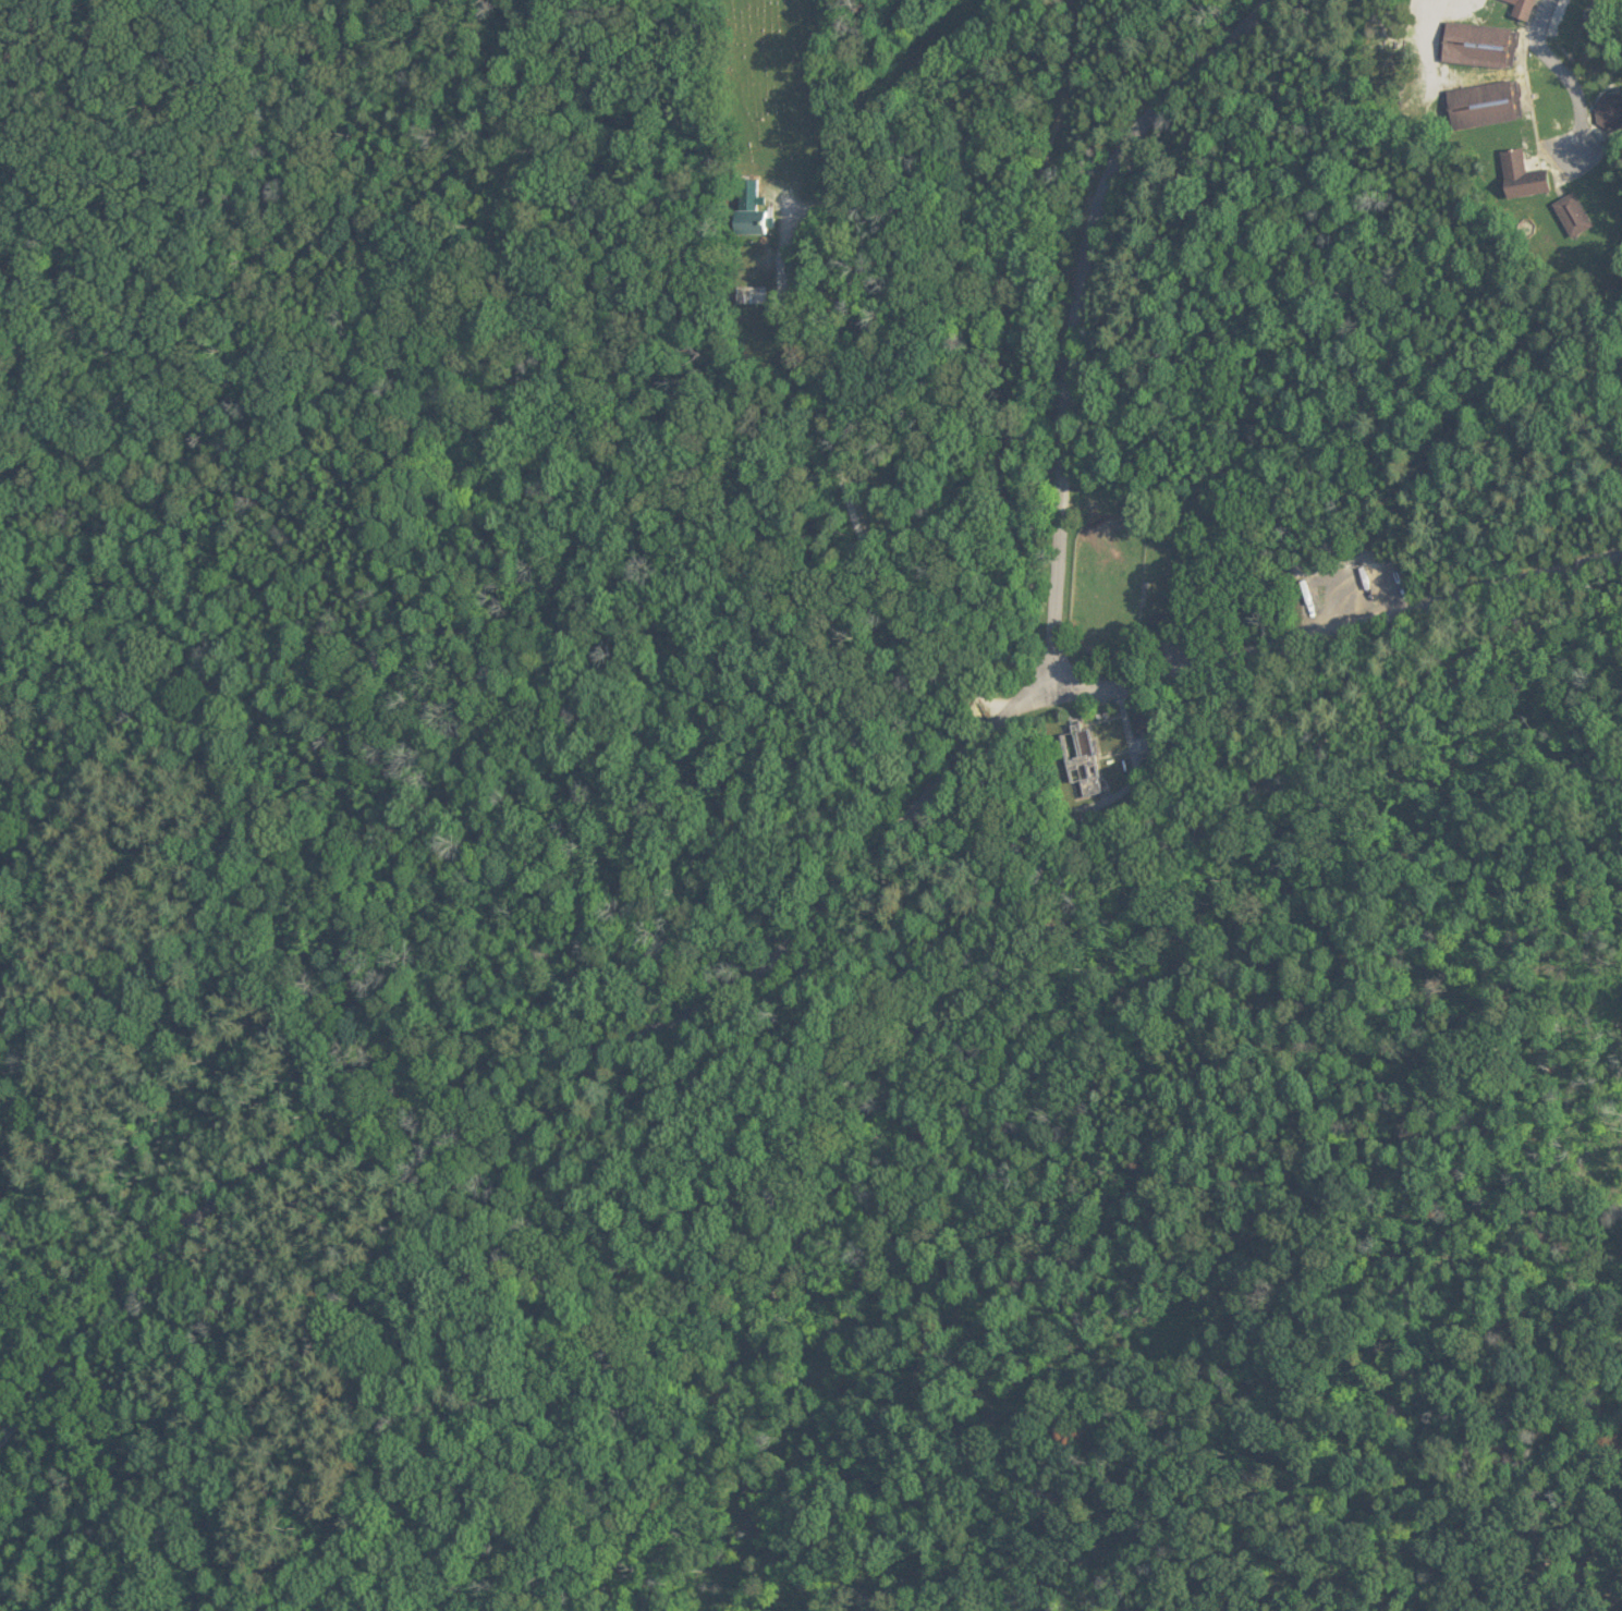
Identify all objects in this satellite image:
building: (1521, 10)
parking lot: (1535, 13)
road: (1178, 24)
road: (71, 34)
road: (28, 36)
building: (1473, 46)
road: (1564, 77)
building: (1478, 106)
building: (1608, 112)
building: (1519, 176)
road: (1414, 205)
building: (746, 210)
building: (1570, 215)
building: (747, 295)
road: (985, 342)
road: (837, 471)
road: (485, 556)
road: (1331, 596)
park: (635, 643)
building: (1145, 720)
building: (1080, 758)
road: (847, 881)

